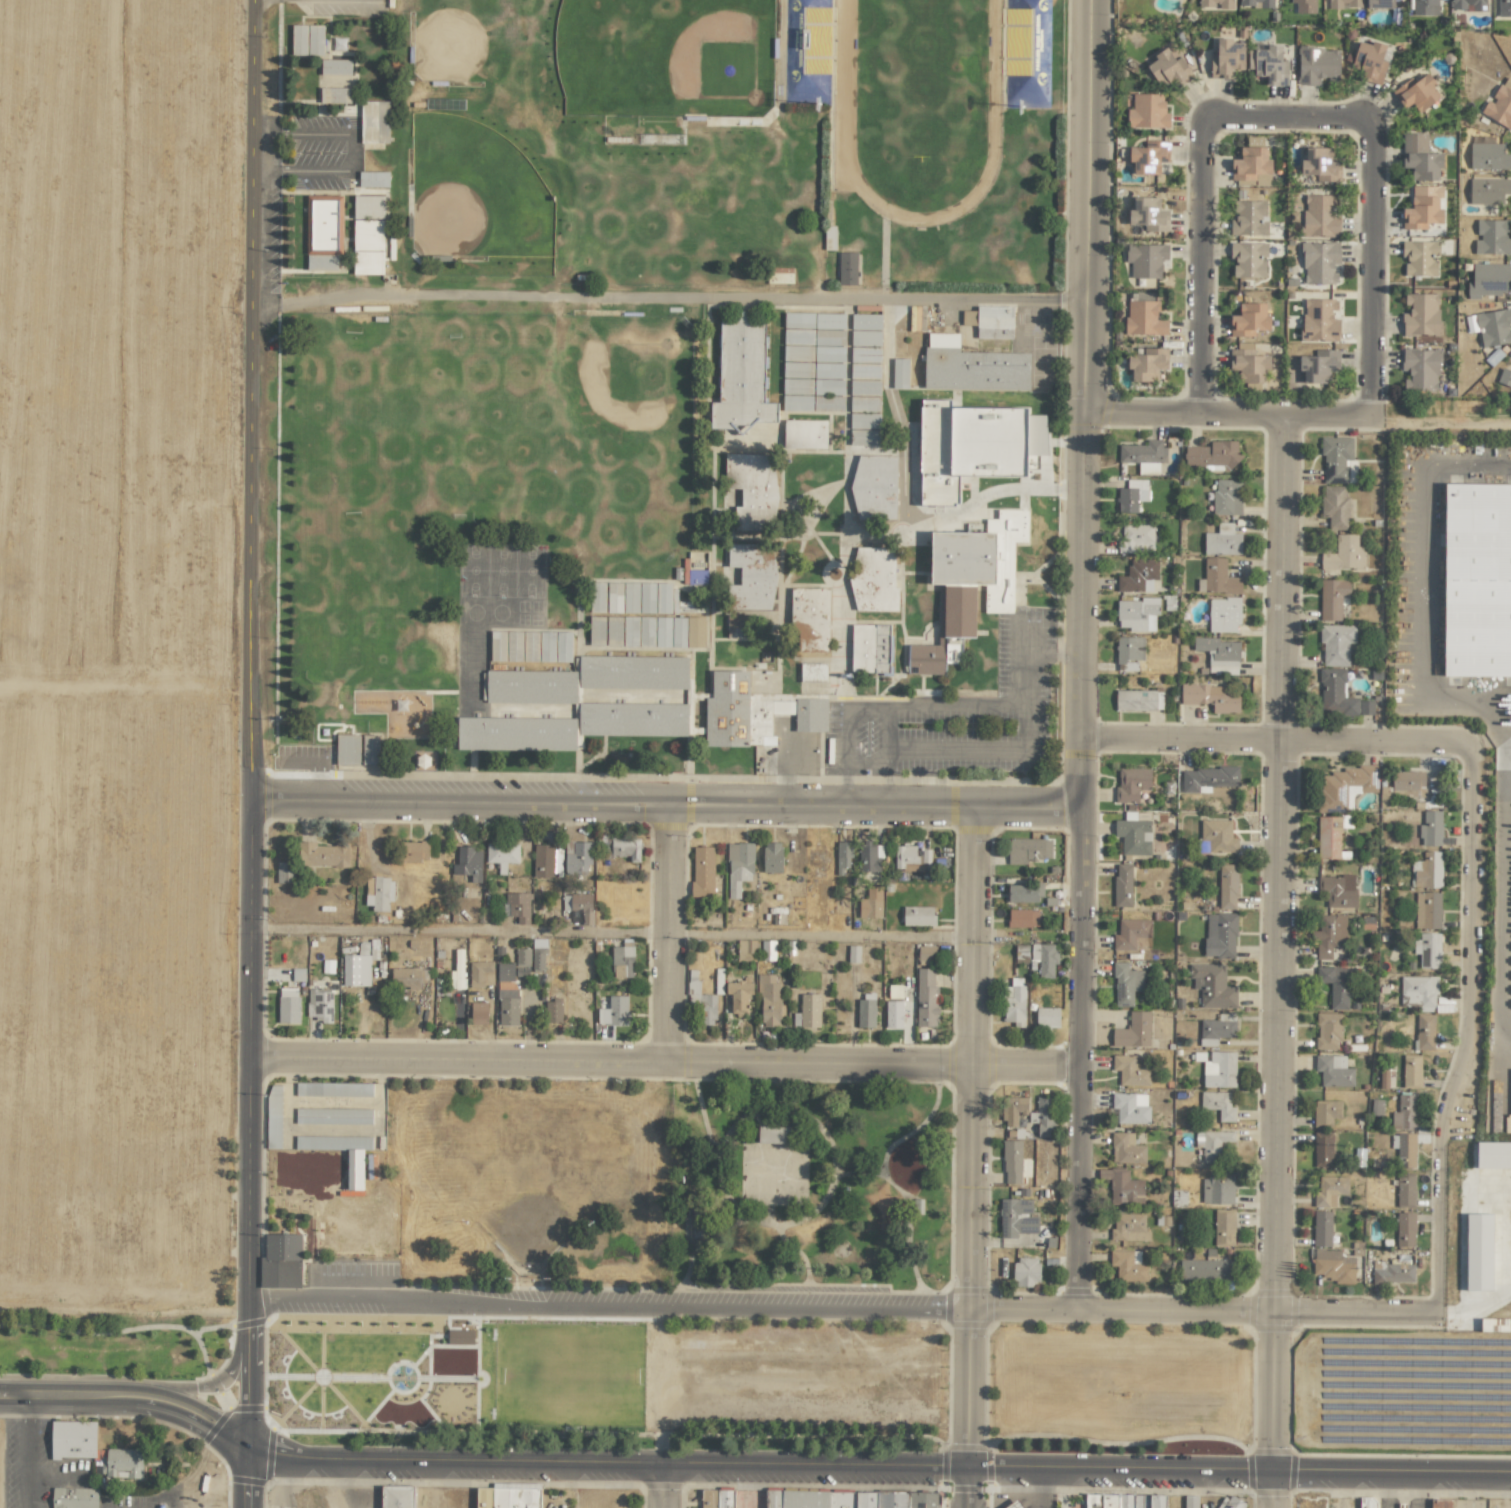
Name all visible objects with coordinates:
building: (1257, 3)
building: (1379, 3)
building: (1216, 4)
building: (1345, 4)
building: (1469, 4)
building: (1304, 6)
building: (1425, 7)
building: (1504, 8)
building: (307, 40)
building: (1227, 58)
building: (1370, 61)
building: (1268, 64)
building: (1317, 64)
building: (335, 67)
building: (1169, 69)
building: (1417, 93)
building: (335, 95)
building: (1499, 107)
building: (1148, 111)
road: (1289, 119)
building: (374, 122)
road: (353, 152)
building: (1149, 157)
building: (1419, 157)
building: (1489, 157)
building: (1252, 164)
building: (1320, 164)
building: (373, 179)
building: (1488, 190)
building: (1423, 207)
road: (1088, 209)
building: (1148, 214)
building: (1320, 215)
building: (1249, 218)
building: (323, 232)
building: (368, 234)
building: (1492, 237)
building: (1419, 256)
building: (1146, 259)
building: (1248, 259)
building: (1320, 262)
road: (1376, 267)
building: (847, 268)
road: (1201, 268)
building: (779, 275)
building: (1488, 280)
road: (671, 297)
building: (1421, 314)
building: (917, 318)
building: (1144, 318)
building: (1249, 319)
building: (1319, 320)
building: (866, 321)
building: (990, 321)
building: (1491, 326)
building: (814, 337)
building: (865, 338)
building: (865, 354)
building: (1147, 364)
building: (972, 366)
building: (1249, 366)
building: (1319, 366)
building: (1420, 370)
building: (865, 371)
building: (900, 373)
building: (742, 376)
building: (1504, 377)
building: (805, 382)
building: (828, 387)
building: (865, 387)
building: (828, 403)
building: (864, 404)
road: (1233, 416)
building: (864, 420)
building: (805, 434)
building: (864, 437)
building: (974, 445)
building: (1212, 454)
building: (1144, 455)
building: (1336, 458)
building: (875, 487)
building: (749, 490)
building: (1131, 495)
building: (1227, 497)
building: (1335, 506)
building: (1136, 538)
building: (1222, 540)
building: (1344, 554)
building: (694, 572)
building: (752, 576)
building: (1138, 576)
building: (1217, 578)
building: (874, 579)
building: (970, 580)
building: (1477, 580)
building: (597, 597)
building: (614, 597)
building: (631, 597)
building: (647, 597)
building: (663, 598)
building: (1332, 598)
building: (1138, 614)
building: (1223, 614)
building: (810, 619)
building: (740, 626)
building: (596, 630)
building: (630, 630)
building: (646, 630)
building: (614, 631)
building: (679, 632)
building: (1336, 643)
building: (498, 646)
building: (514, 646)
building: (530, 646)
building: (547, 646)
building: (563, 646)
building: (871, 648)
building: (1129, 652)
building: (1219, 654)
building: (813, 671)
building: (633, 672)
building: (529, 686)
building: (1335, 693)
building: (1210, 697)
building: (1138, 700)
road: (1461, 703)
building: (1366, 707)
road: (850, 709)
building: (754, 712)
building: (516, 733)
road: (1277, 744)
building: (347, 749)
building: (370, 749)
road: (255, 754)
road: (317, 761)
building: (1207, 779)
building: (1131, 784)
building: (1407, 784)
building: (1345, 787)
road: (670, 811)
building: (1218, 835)
building: (1134, 836)
building: (1329, 837)
building: (603, 846)
building: (626, 848)
building: (1028, 850)
building: (413, 851)
building: (323, 854)
building: (502, 854)
building: (910, 855)
building: (577, 857)
building: (772, 857)
building: (843, 857)
building: (869, 857)
building: (468, 863)
road: (1086, 865)
building: (739, 866)
road: (1286, 866)
building: (1428, 870)
building: (702, 871)
building: (283, 872)
building: (1123, 885)
building: (1228, 886)
building: (1024, 892)
building: (1336, 892)
building: (380, 894)
building: (871, 903)
building: (579, 905)
building: (517, 906)
building: (1427, 910)
building: (918, 916)
building: (1022, 918)
road: (464, 931)
building: (1132, 935)
building: (1220, 935)
building: (1329, 935)
road: (826, 936)
road: (673, 942)
building: (746, 950)
building: (768, 950)
building: (1428, 950)
building: (1021, 953)
building: (853, 954)
building: (926, 955)
building: (522, 957)
building: (538, 958)
building: (622, 961)
building: (357, 969)
building: (505, 971)
building: (481, 974)
building: (408, 977)
building: (1126, 984)
building: (1335, 985)
building: (1212, 986)
building: (894, 991)
building: (1419, 992)
building: (739, 993)
building: (926, 997)
building: (769, 999)
building: (1014, 1001)
building: (320, 1004)
building: (702, 1004)
building: (288, 1005)
building: (508, 1007)
building: (553, 1010)
building: (614, 1011)
building: (809, 1011)
building: (865, 1011)
building: (479, 1013)
building: (893, 1014)
building: (1047, 1017)
building: (1217, 1029)
building: (1133, 1031)
building: (1328, 1031)
building: (1424, 1032)
road: (1470, 1035)
road: (977, 1066)
building: (1132, 1069)
building: (1219, 1069)
building: (1333, 1071)
building: (1411, 1071)
road: (672, 1073)
building: (333, 1089)
building: (1218, 1104)
building: (1131, 1108)
building: (1013, 1110)
building: (1326, 1112)
building: (1405, 1112)
building: (273, 1115)
building: (333, 1116)
building: (1044, 1116)
building: (1505, 1122)
building: (773, 1134)
building: (1212, 1144)
building: (1126, 1149)
building: (1404, 1149)
building: (1322, 1150)
building: (1493, 1155)
building: (1012, 1161)
building: (354, 1169)
building: (1122, 1187)
building: (1218, 1188)
building: (1330, 1190)
building: (1405, 1190)
park: (685, 1194)
building: (1017, 1217)
building: (1224, 1227)
building: (1129, 1228)
building: (1322, 1228)
building: (1405, 1229)
building: (1479, 1251)
building: (281, 1261)
building: (1332, 1265)
building: (1128, 1266)
building: (1206, 1269)
building: (1026, 1271)
building: (1392, 1272)
road: (609, 1308)
road: (126, 1310)
road: (1200, 1314)
building: (1494, 1324)
building: (460, 1337)
road: (191, 1389)
road: (133, 1397)
road: (968, 1410)
road: (1275, 1412)
road: (18, 1452)
building: (62, 1453)
building: (122, 1463)
road: (881, 1465)
road: (663, 1484)
road: (1040, 1487)
building: (75, 1497)
building: (396, 1497)
building: (507, 1498)
building: (716, 1498)
building: (850, 1499)
building: (1124, 1501)
building: (1190, 1501)
building: (1231, 1502)
building: (1367, 1502)
building: (1440, 1503)
building: (1014, 1504)

